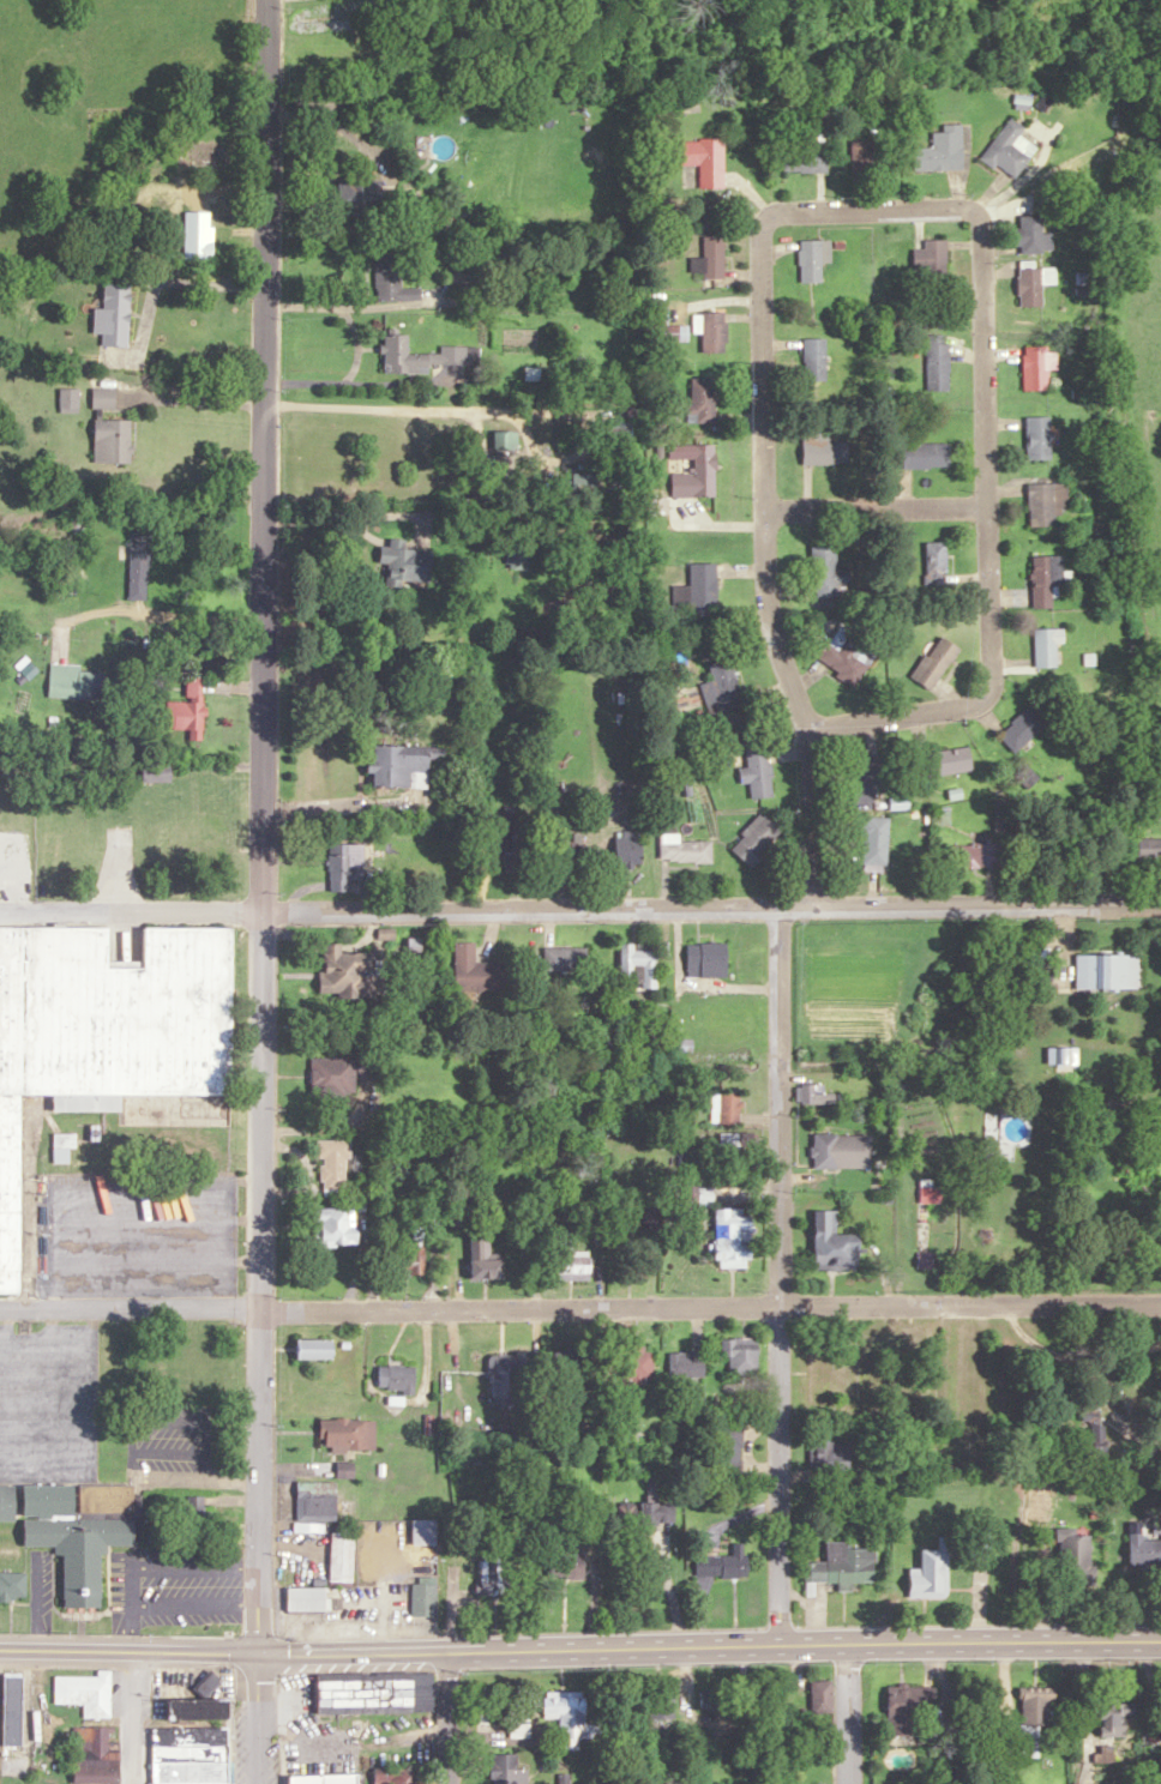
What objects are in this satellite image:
building: (325, 102)
building: (1010, 149)
building: (942, 150)
building: (871, 157)
building: (706, 159)
building: (805, 159)
building: (361, 195)
building: (198, 234)
building: (1033, 234)
building: (710, 257)
building: (813, 258)
building: (931, 260)
building: (391, 277)
road: (157, 281)
building: (1035, 283)
road: (403, 303)
building: (114, 314)
building: (714, 330)
building: (419, 355)
building: (816, 358)
building: (938, 362)
building: (1036, 367)
building: (104, 397)
building: (68, 399)
building: (703, 399)
road: (192, 402)
road: (391, 408)
building: (620, 432)
building: (1039, 438)
road: (983, 439)
building: (113, 440)
building: (506, 440)
building: (824, 448)
building: (927, 454)
building: (694, 470)
building: (584, 483)
building: (1047, 502)
road: (876, 508)
building: (518, 557)
building: (139, 562)
building: (405, 562)
building: (936, 562)
road: (768, 565)
building: (826, 571)
building: (1046, 578)
building: (698, 591)
road: (145, 611)
building: (1047, 646)
building: (847, 651)
building: (937, 662)
building: (74, 682)
building: (722, 688)
building: (188, 709)
building: (1023, 728)
building: (945, 761)
building: (403, 764)
building: (156, 771)
building: (758, 772)
building: (860, 777)
road: (260, 826)
building: (757, 839)
building: (876, 840)
building: (507, 846)
building: (628, 849)
building: (684, 849)
building: (1149, 849)
building: (565, 850)
building: (982, 855)
building: (345, 864)
road: (710, 908)
road: (130, 911)
building: (565, 958)
building: (708, 959)
building: (639, 965)
building: (477, 971)
building: (1107, 971)
building: (350, 972)
building: (108, 1043)
building: (338, 1073)
building: (814, 1095)
building: (729, 1108)
building: (735, 1140)
building: (62, 1146)
building: (825, 1152)
building: (333, 1164)
building: (1137, 1173)
building: (656, 1219)
building: (336, 1226)
building: (735, 1238)
building: (835, 1246)
building: (409, 1253)
building: (485, 1259)
building: (570, 1259)
road: (780, 1274)
road: (580, 1303)
building: (314, 1348)
building: (742, 1355)
building: (638, 1364)
building: (686, 1366)
building: (571, 1367)
building: (822, 1373)
building: (509, 1375)
building: (403, 1376)
building: (974, 1396)
building: (348, 1433)
building: (1094, 1433)
building: (730, 1446)
building: (830, 1453)
building: (345, 1470)
building: (317, 1501)
building: (7, 1503)
building: (658, 1513)
building: (195, 1519)
building: (80, 1531)
building: (423, 1532)
building: (1145, 1553)
building: (342, 1557)
building: (1076, 1560)
building: (724, 1563)
building: (569, 1565)
building: (844, 1565)
building: (932, 1573)
building: (494, 1575)
building: (12, 1585)
building: (307, 1599)
building: (423, 1599)
building: (201, 1628)
road: (710, 1644)
road: (130, 1653)
building: (85, 1692)
building: (375, 1693)
building: (822, 1696)
building: (716, 1699)
building: (662, 1706)
building: (13, 1710)
building: (200, 1710)
building: (908, 1710)
road: (847, 1713)
building: (567, 1716)
road: (447, 1718)
building: (1034, 1718)
road: (130, 1719)
road: (261, 1719)
building: (1113, 1729)
building: (192, 1755)
building: (509, 1770)
building: (97, 1774)
building: (397, 1776)
building: (325, 1779)

